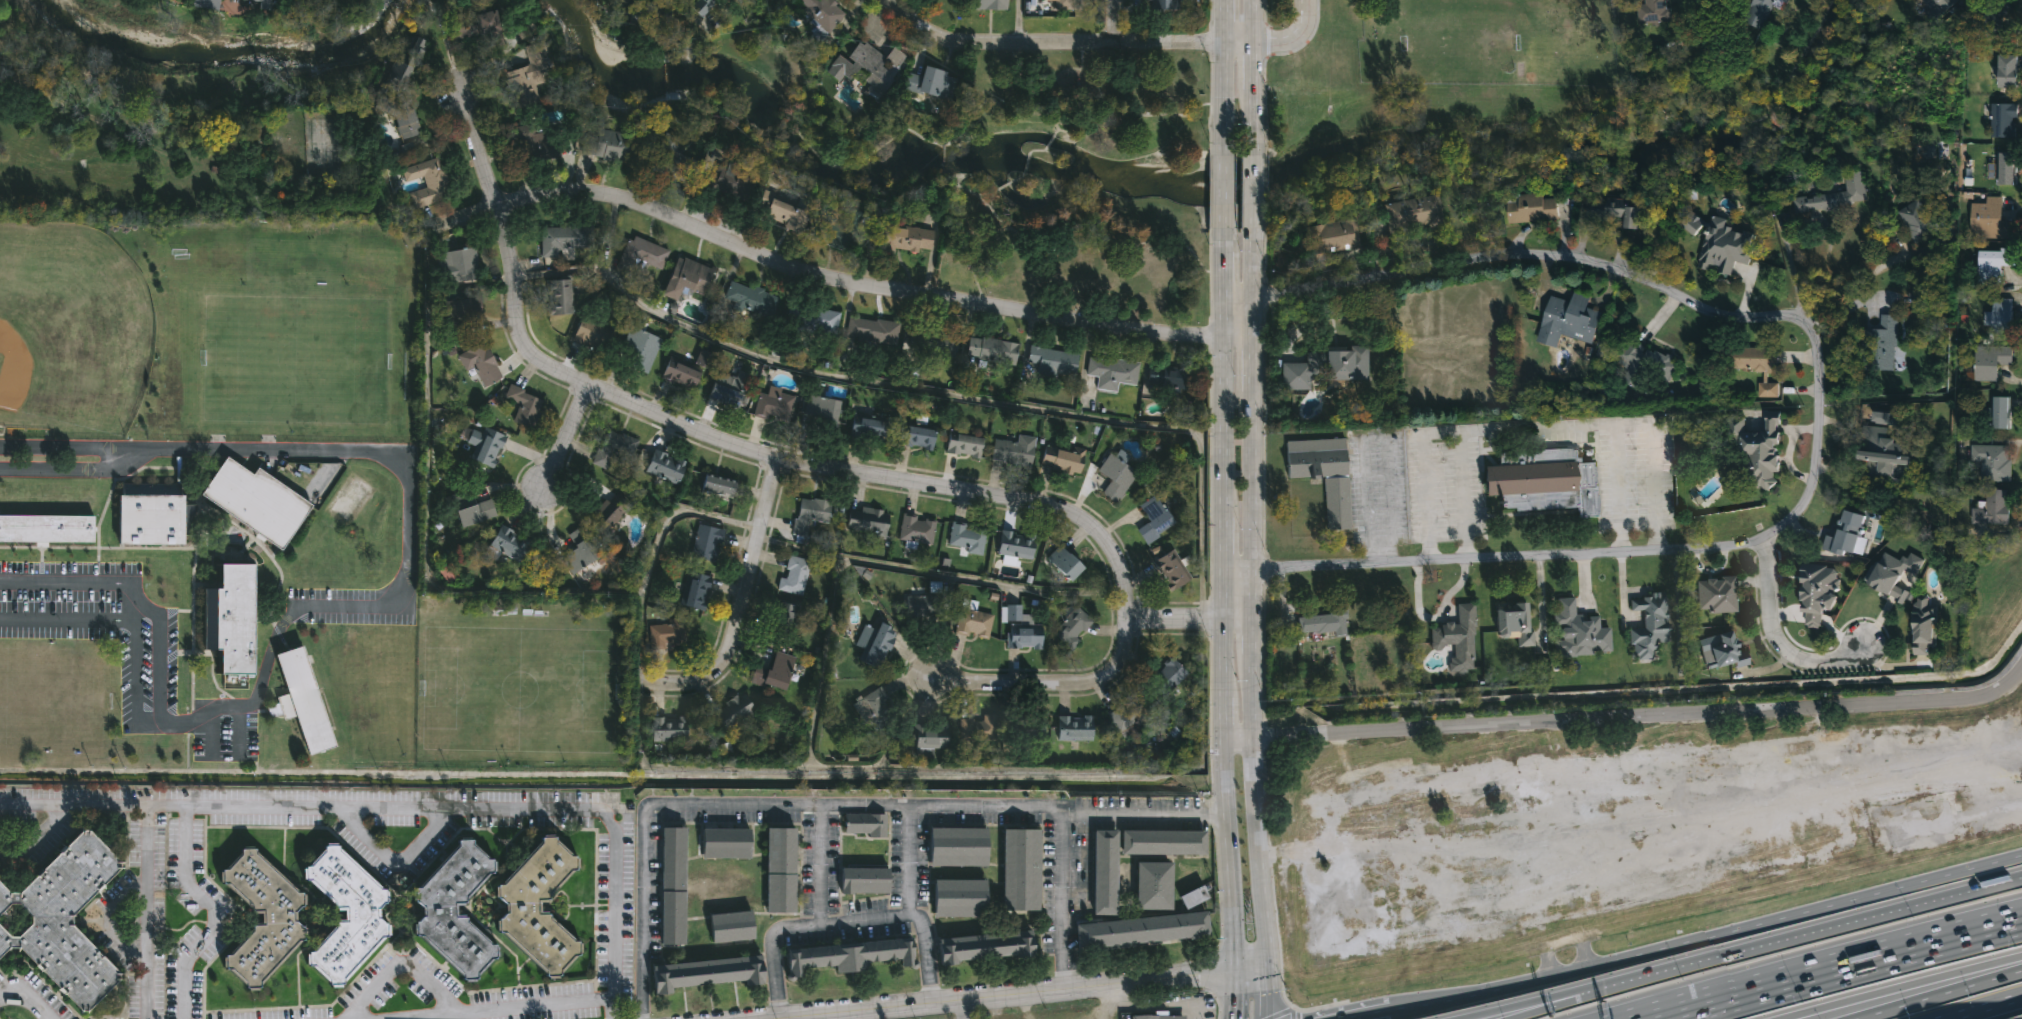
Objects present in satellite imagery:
building: (1786, 0)
building: (1064, 4)
building: (1145, 4)
building: (985, 5)
building: (206, 6)
building: (703, 6)
building: (1938, 7)
building: (1654, 11)
building: (1762, 11)
building: (822, 14)
building: (1990, 16)
road: (1018, 21)
road: (1115, 21)
road: (1296, 36)
building: (1709, 42)
road: (1064, 43)
building: (866, 67)
building: (2009, 70)
building: (528, 71)
road: (1223, 76)
road: (1257, 76)
building: (930, 82)
road: (1082, 111)
building: (397, 113)
road: (1160, 113)
building: (2004, 119)
road: (1074, 133)
building: (527, 139)
road: (1052, 142)
road: (958, 143)
building: (608, 145)
road: (1038, 152)
building: (670, 160)
road: (1026, 165)
building: (2008, 166)
building: (729, 179)
building: (425, 182)
road: (1022, 184)
building: (1835, 194)
road: (1220, 198)
road: (1259, 198)
road: (1010, 200)
road: (987, 201)
building: (1531, 206)
building: (1617, 210)
building: (783, 213)
building: (1413, 213)
building: (1704, 215)
building: (1991, 219)
building: (1922, 220)
building: (838, 229)
building: (1334, 236)
road: (605, 238)
building: (906, 238)
building: (564, 240)
building: (1726, 248)
road: (982, 253)
building: (640, 254)
road: (1540, 255)
building: (455, 263)
building: (1996, 264)
building: (686, 277)
road: (1849, 281)
building: (1923, 288)
road: (871, 290)
building: (558, 296)
building: (748, 297)
building: (459, 313)
building: (2002, 314)
building: (1570, 319)
building: (820, 320)
building: (873, 330)
park: (70, 332)
park: (277, 333)
building: (590, 334)
building: (933, 341)
building: (1880, 343)
building: (636, 348)
building: (992, 350)
building: (1052, 361)
building: (1644, 361)
building: (1992, 361)
building: (479, 364)
building: (1756, 364)
building: (1325, 366)
building: (686, 369)
building: (1112, 372)
building: (1168, 377)
road: (855, 381)
building: (727, 389)
building: (774, 404)
building: (522, 406)
building: (1999, 411)
building: (819, 416)
road: (1620, 423)
building: (866, 428)
road: (1442, 430)
road: (563, 434)
building: (915, 436)
road: (724, 441)
building: (964, 442)
building: (482, 444)
road: (70, 446)
building: (614, 448)
building: (1759, 448)
building: (1014, 450)
building: (1884, 455)
building: (1063, 458)
building: (1993, 461)
building: (664, 466)
road: (72, 470)
building: (1324, 474)
building: (1116, 475)
road: (425, 479)
building: (1543, 481)
building: (717, 485)
road: (1620, 487)
road: (1255, 490)
road: (1219, 491)
building: (253, 502)
building: (470, 508)
building: (1993, 508)
road: (1368, 510)
building: (151, 515)
building: (605, 516)
building: (809, 516)
building: (1153, 519)
building: (869, 521)
building: (47, 529)
building: (916, 531)
building: (1847, 533)
building: (966, 539)
building: (705, 542)
building: (507, 545)
building: (1014, 546)
building: (578, 550)
road: (1585, 551)
road: (407, 553)
building: (1064, 563)
building: (1173, 568)
road: (649, 571)
road: (937, 571)
building: (794, 575)
road: (741, 584)
building: (694, 590)
building: (1718, 595)
building: (1816, 595)
road: (133, 596)
building: (924, 606)
road: (134, 614)
building: (782, 618)
road: (1236, 618)
building: (972, 619)
road: (1172, 619)
building: (228, 620)
road: (131, 622)
building: (1325, 623)
building: (1515, 624)
building: (1072, 625)
building: (1650, 625)
building: (1925, 626)
building: (1021, 629)
building: (1579, 632)
building: (666, 634)
road: (1778, 635)
building: (1458, 638)
building: (874, 645)
building: (1728, 652)
building: (774, 672)
building: (1167, 676)
road: (1049, 682)
park: (517, 693)
building: (299, 701)
building: (873, 709)
road: (1644, 711)
building: (1127, 714)
building: (733, 715)
building: (1026, 723)
building: (1072, 728)
building: (667, 729)
building: (977, 729)
road: (211, 733)
road: (237, 733)
road: (1237, 739)
building: (928, 740)
road: (1219, 776)
road: (835, 805)
road: (165, 807)
road: (475, 808)
road: (1141, 813)
building: (865, 825)
building: (1663, 834)
road: (32, 836)
road: (147, 839)
building: (1163, 843)
building: (724, 844)
building: (957, 848)
road: (1261, 853)
road: (394, 860)
road: (909, 860)
building: (1020, 870)
building: (779, 871)
building: (1104, 873)
building: (862, 882)
building: (671, 887)
building: (1153, 887)
road: (1227, 891)
building: (1193, 898)
building: (958, 899)
building: (1424, 904)
building: (537, 907)
building: (454, 911)
building: (343, 916)
road: (914, 916)
building: (260, 919)
road: (107, 921)
building: (61, 922)
road: (812, 925)
building: (729, 928)
building: (1141, 931)
road: (1800, 934)
road: (1681, 943)
building: (984, 948)
building: (848, 957)
road: (399, 964)
road: (1843, 964)
road: (1250, 969)
building: (705, 975)
road: (1902, 986)
road: (1269, 993)
road: (1937, 993)
road: (1041, 994)
road: (1232, 994)
road: (26, 997)
road: (1514, 1005)
road: (1543, 1006)
road: (1981, 1006)
road: (610, 1008)
road: (961, 1011)
road: (1384, 1013)
building: (1162, 1016)
road: (395, 1018)
road: (403, 1018)

